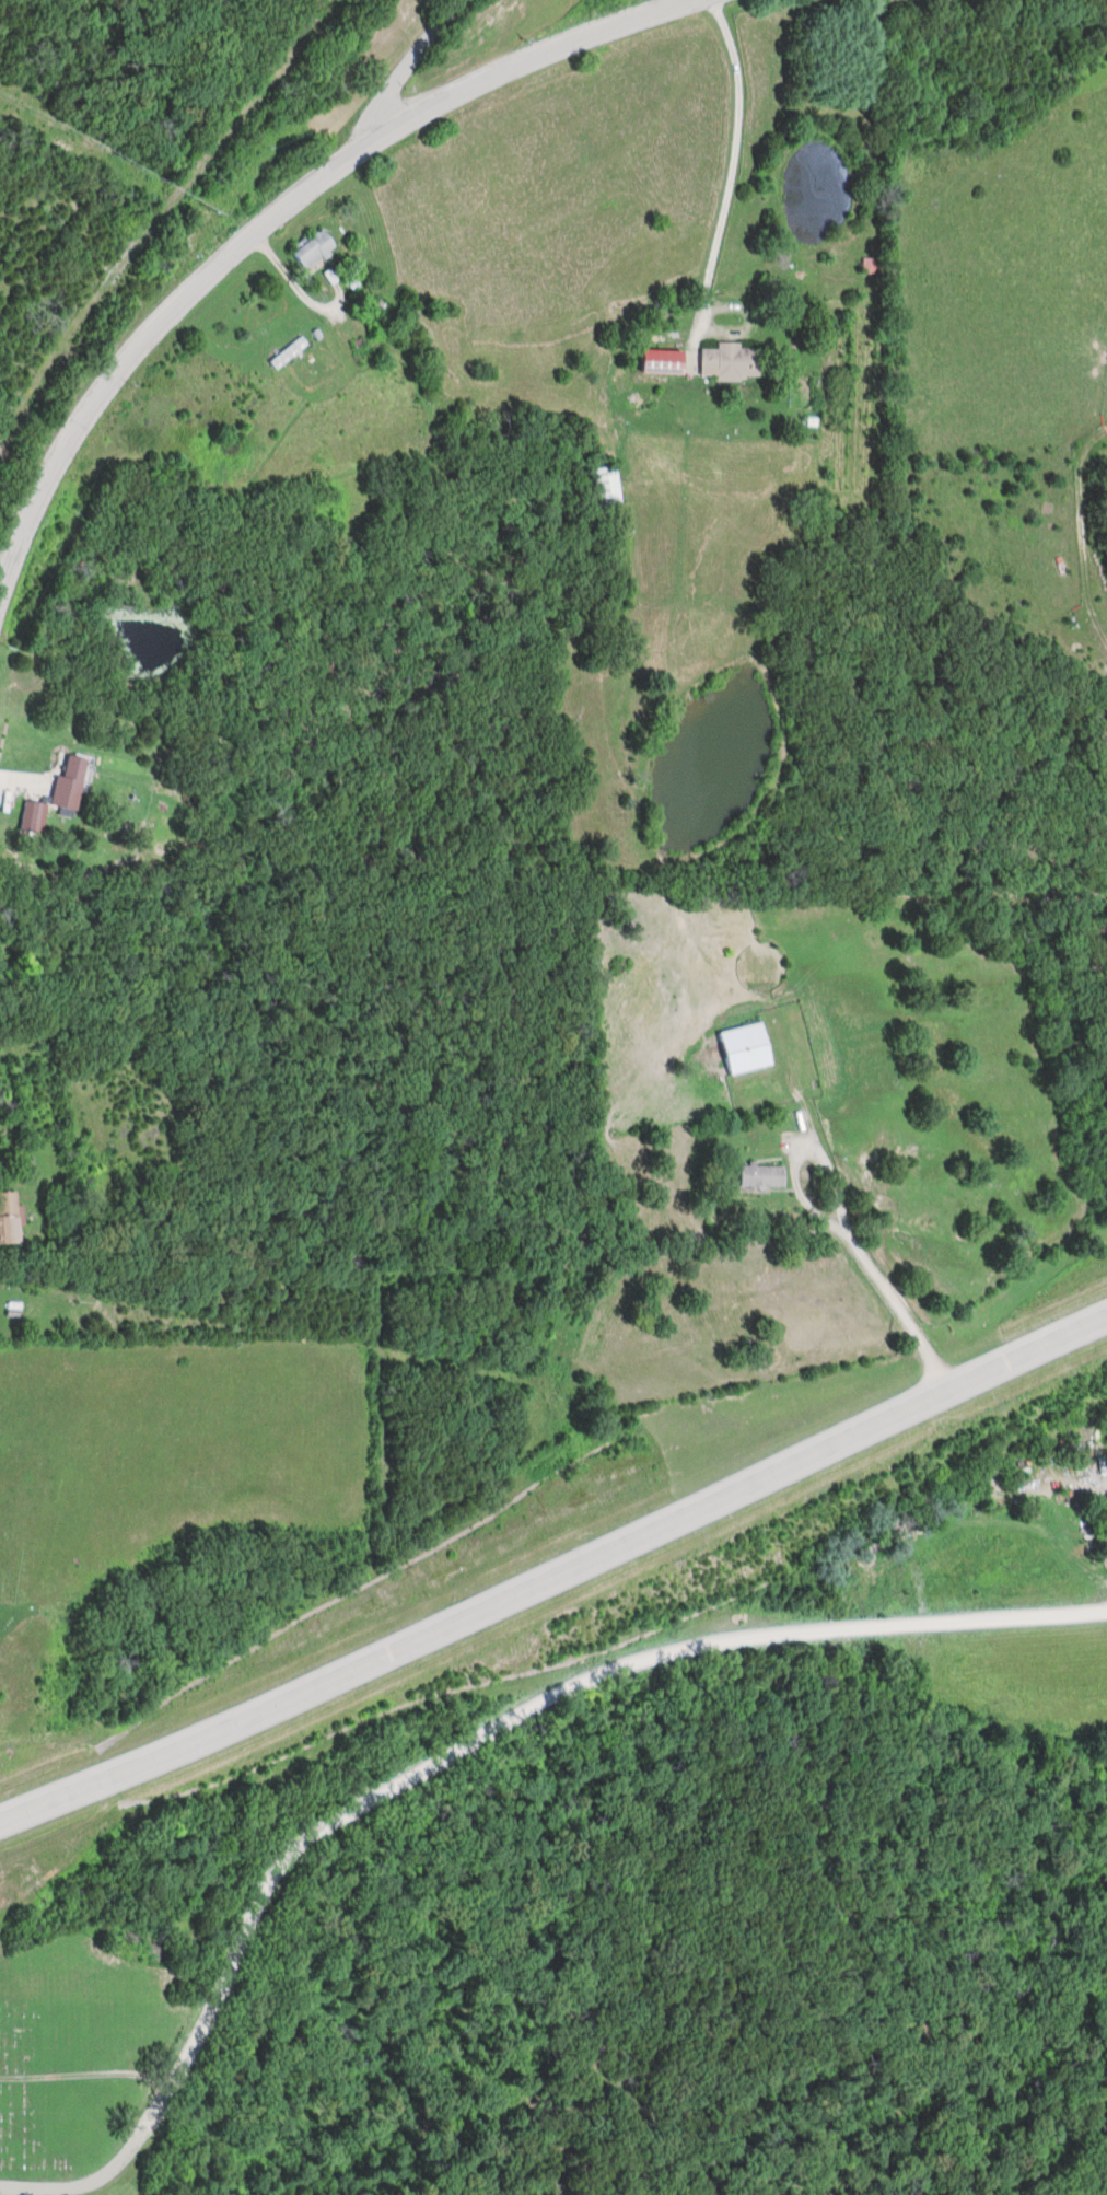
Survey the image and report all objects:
road: (408, 68)
road: (732, 166)
railway: (165, 214)
road: (277, 214)
building: (314, 251)
building: (375, 310)
building: (288, 355)
building: (729, 363)
building: (606, 488)
building: (69, 783)
building: (33, 820)
building: (745, 1050)
building: (761, 1177)
building: (8, 1220)
road: (881, 1279)
road: (553, 1565)
road: (461, 1746)
park: (71, 2086)
road: (20, 2193)

